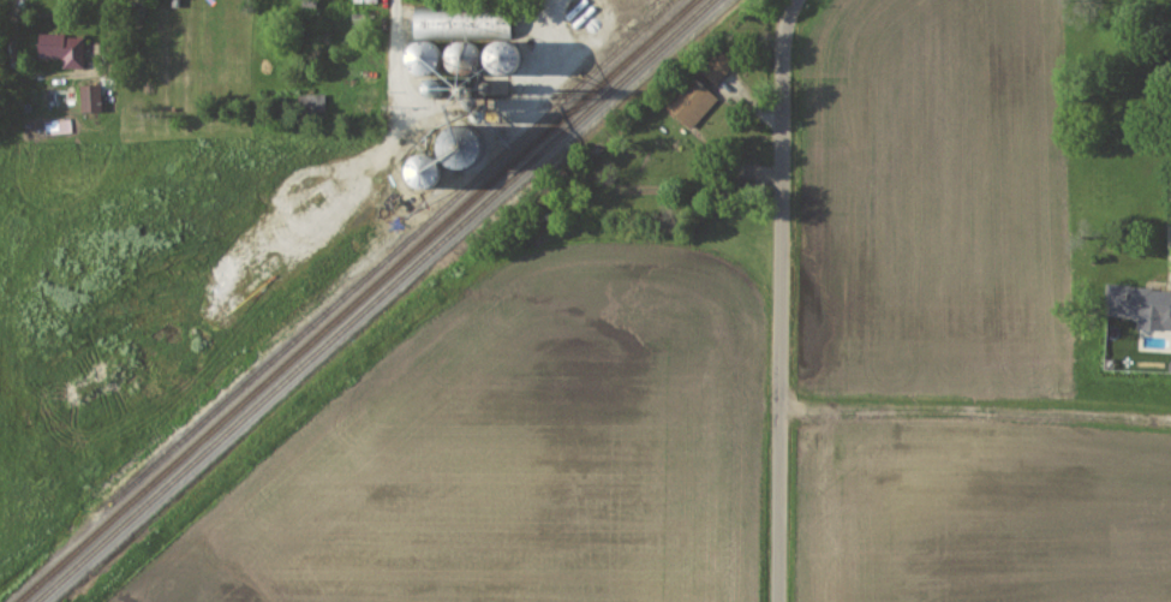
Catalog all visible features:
building: (368, 2)
road: (393, 8)
building: (64, 52)
building: (423, 55)
silo: (423, 55)
building: (461, 55)
silo: (461, 55)
building: (500, 55)
silo: (500, 55)
building: (717, 68)
road: (395, 79)
building: (91, 100)
building: (692, 105)
building: (462, 143)
silo: (462, 143)
building: (423, 169)
silo: (423, 169)
railway: (392, 251)
road: (777, 299)
railway: (354, 300)
railway: (372, 300)
building: (1141, 306)

